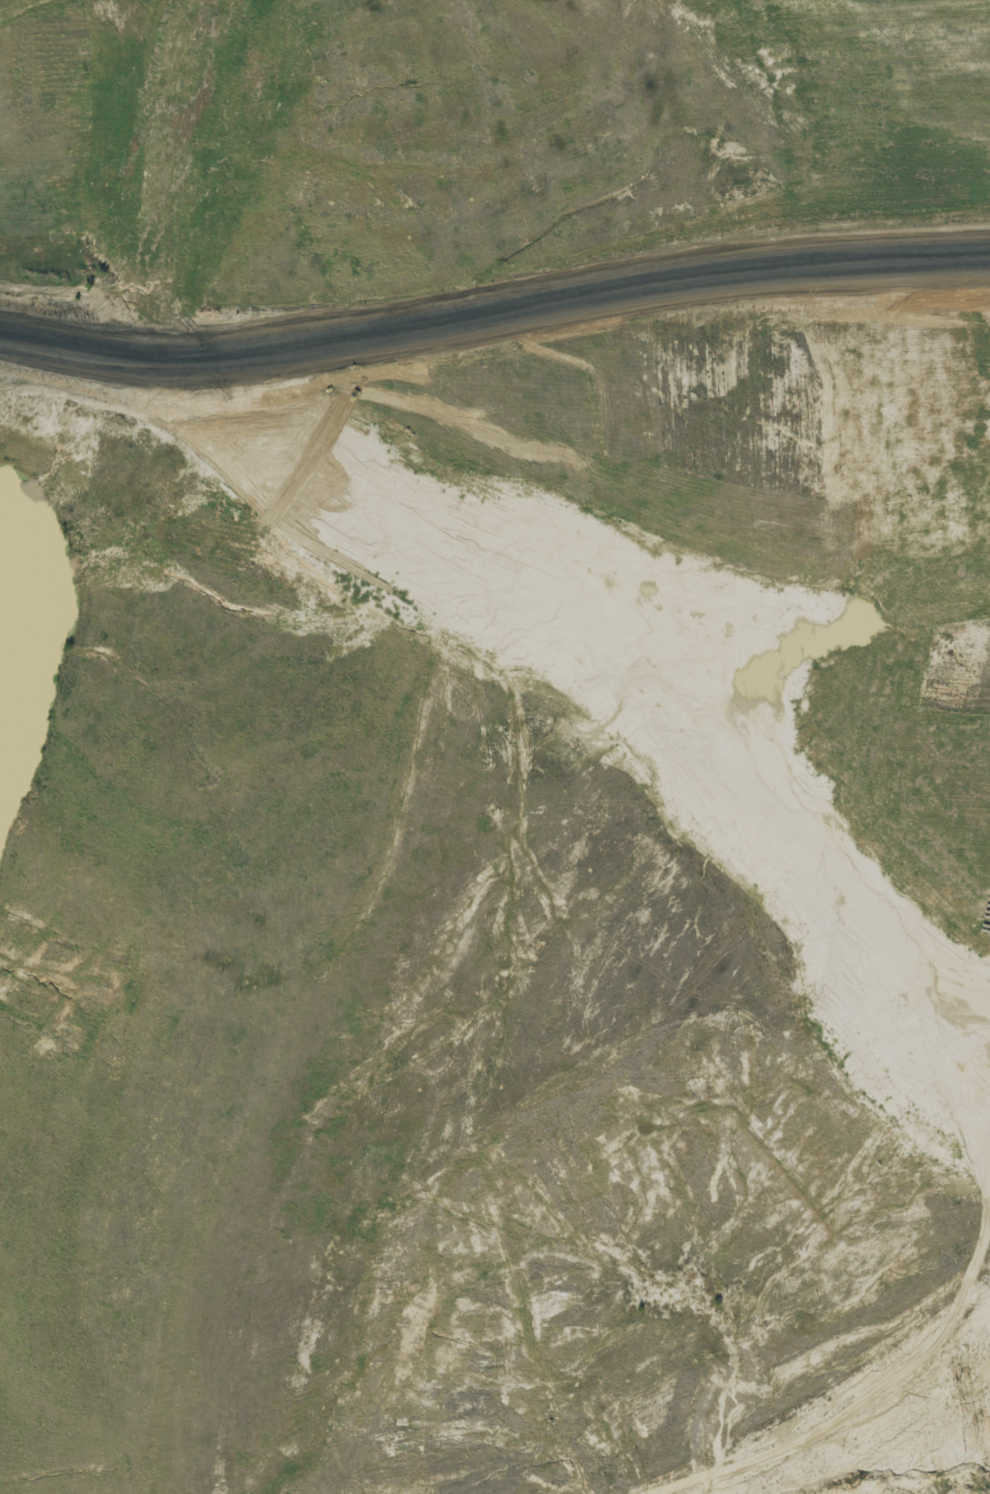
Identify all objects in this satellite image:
quarry: (458, 732)

